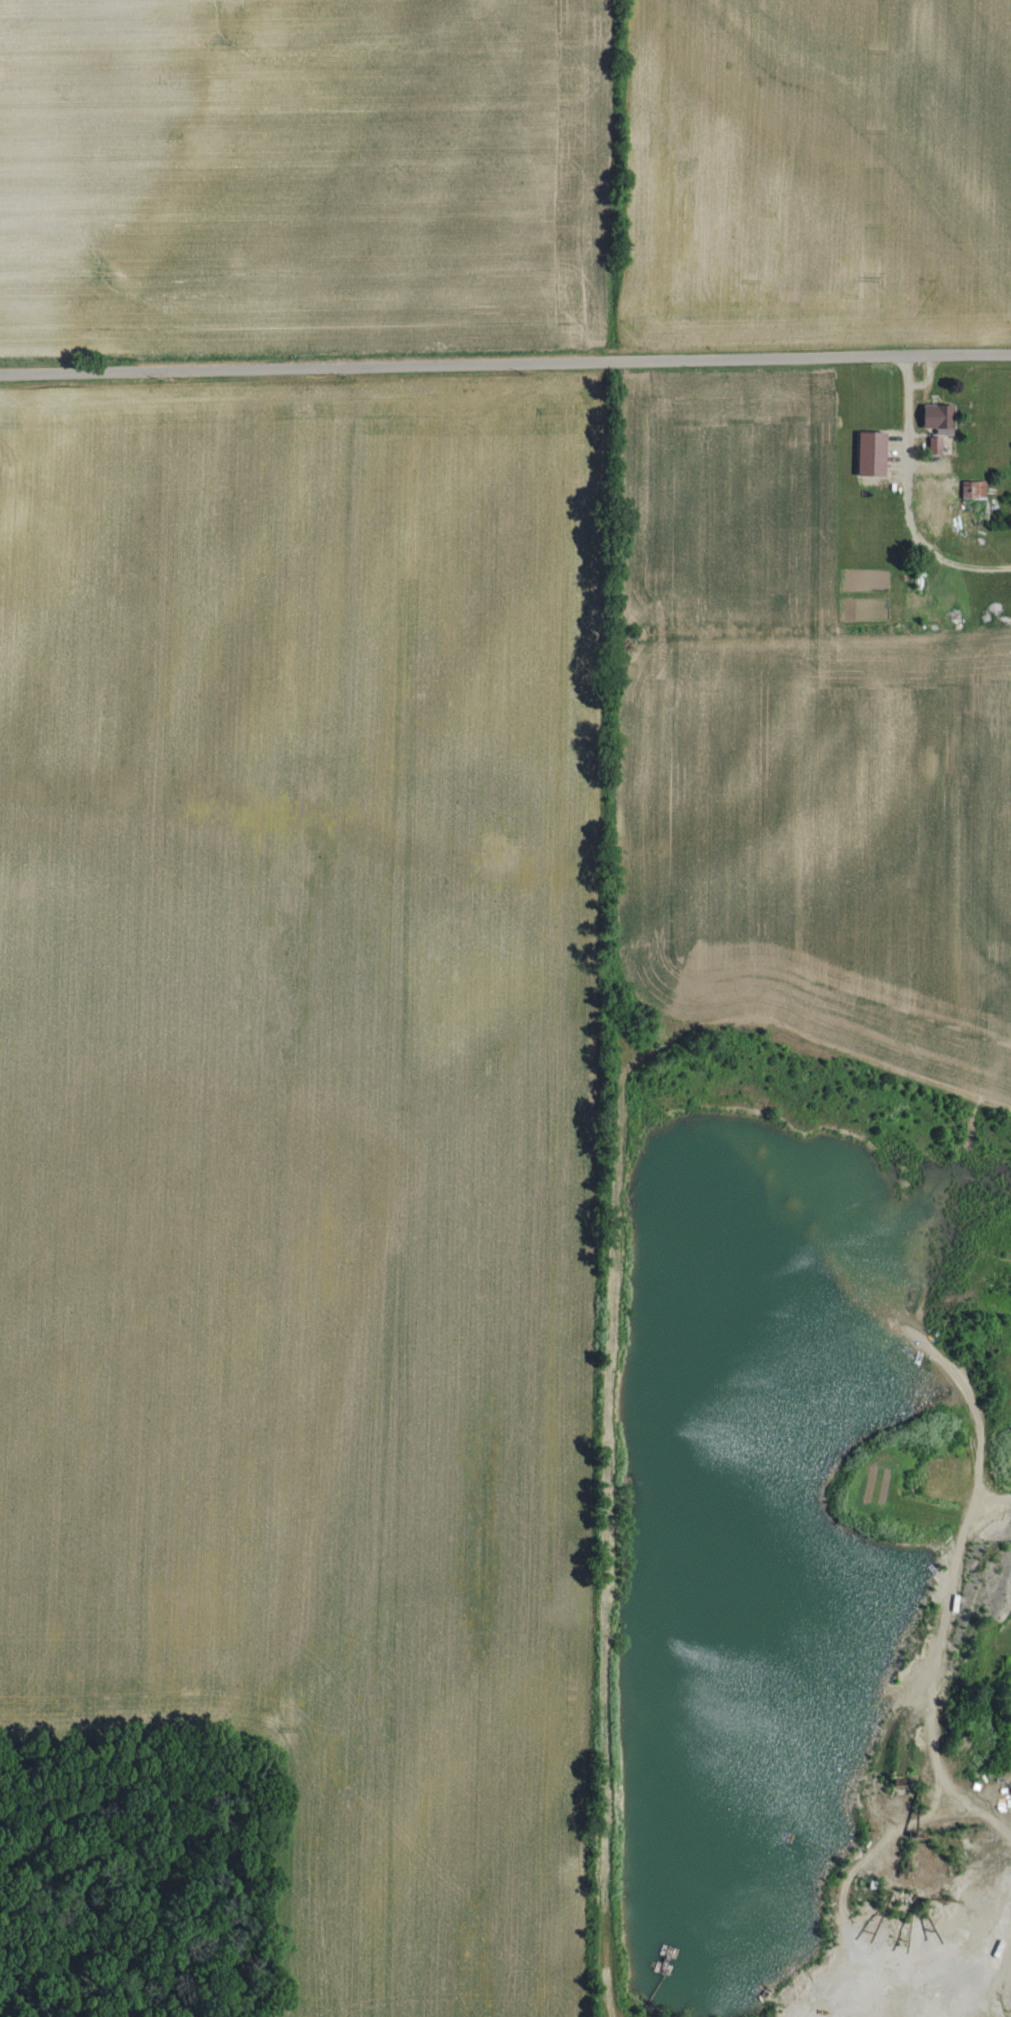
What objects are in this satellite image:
road: (505, 361)
building: (942, 417)
building: (938, 443)
building: (874, 451)
building: (975, 488)
road: (916, 491)
road: (976, 1412)
road: (934, 1671)
road: (995, 1983)

